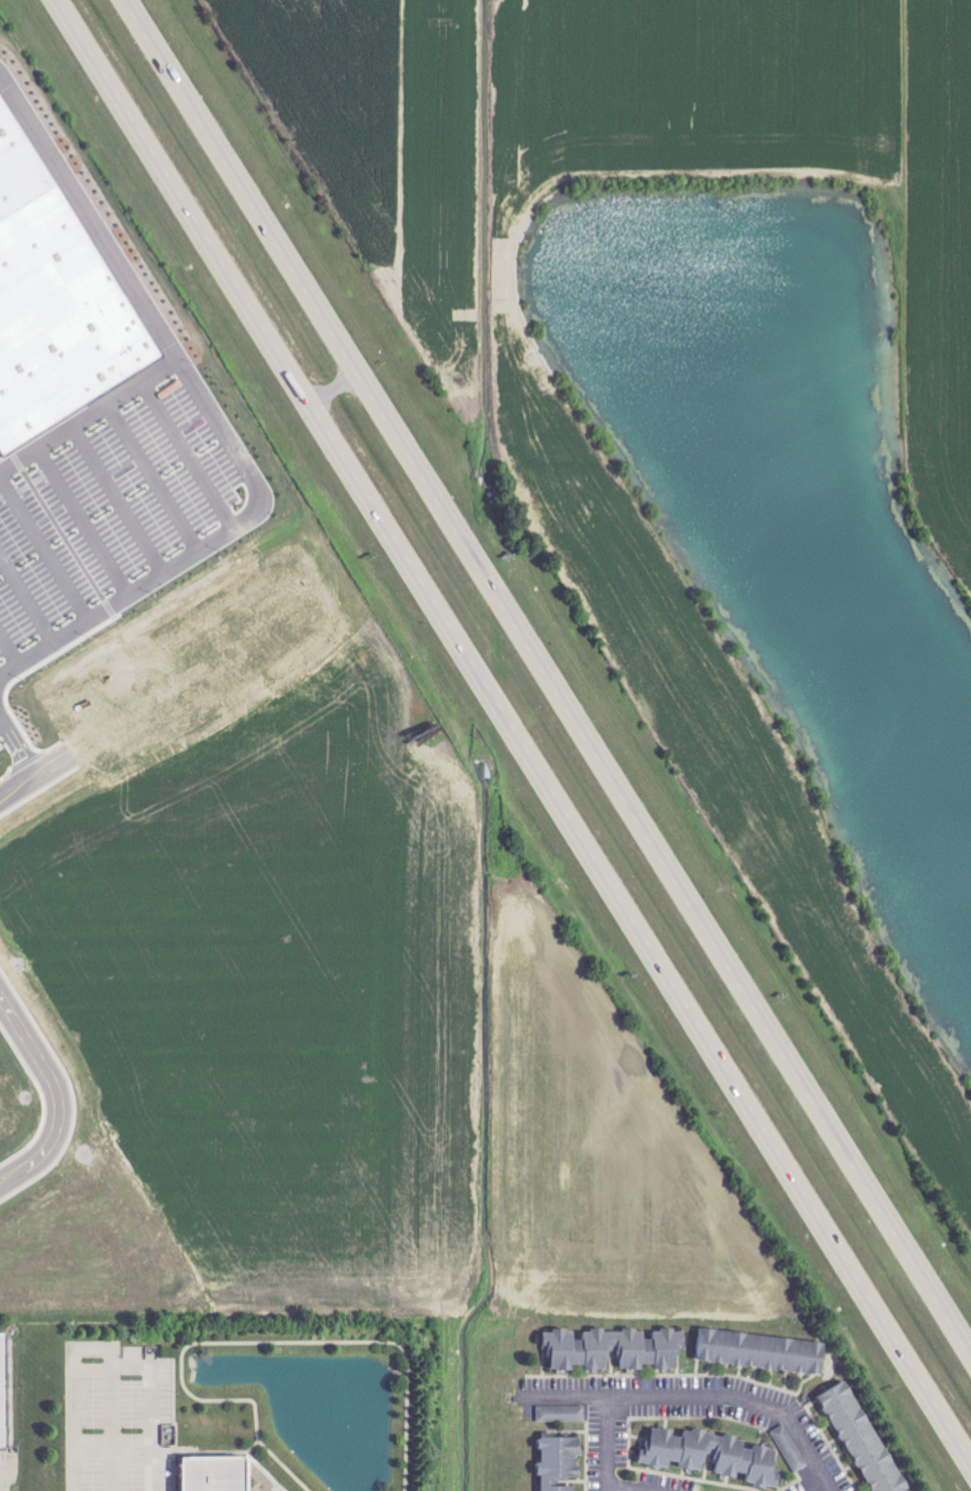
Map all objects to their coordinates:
building: (55, 301)
road: (334, 386)
road: (191, 455)
road: (253, 476)
road: (156, 478)
road: (121, 500)
parking lot: (117, 512)
road: (87, 522)
road: (45, 552)
road: (29, 597)
road: (12, 647)
road: (548, 676)
road: (4, 721)
road: (515, 728)
road: (35, 768)
road: (59, 1094)
road: (110, 1347)
building: (616, 1349)
building: (764, 1351)
building: (4, 1391)
building: (562, 1413)
road: (674, 1417)
road: (116, 1427)
building: (865, 1438)
building: (791, 1448)
road: (600, 1454)
building: (714, 1454)
road: (821, 1460)
building: (561, 1462)
building: (218, 1473)
road: (3, 1481)
road: (834, 1489)

